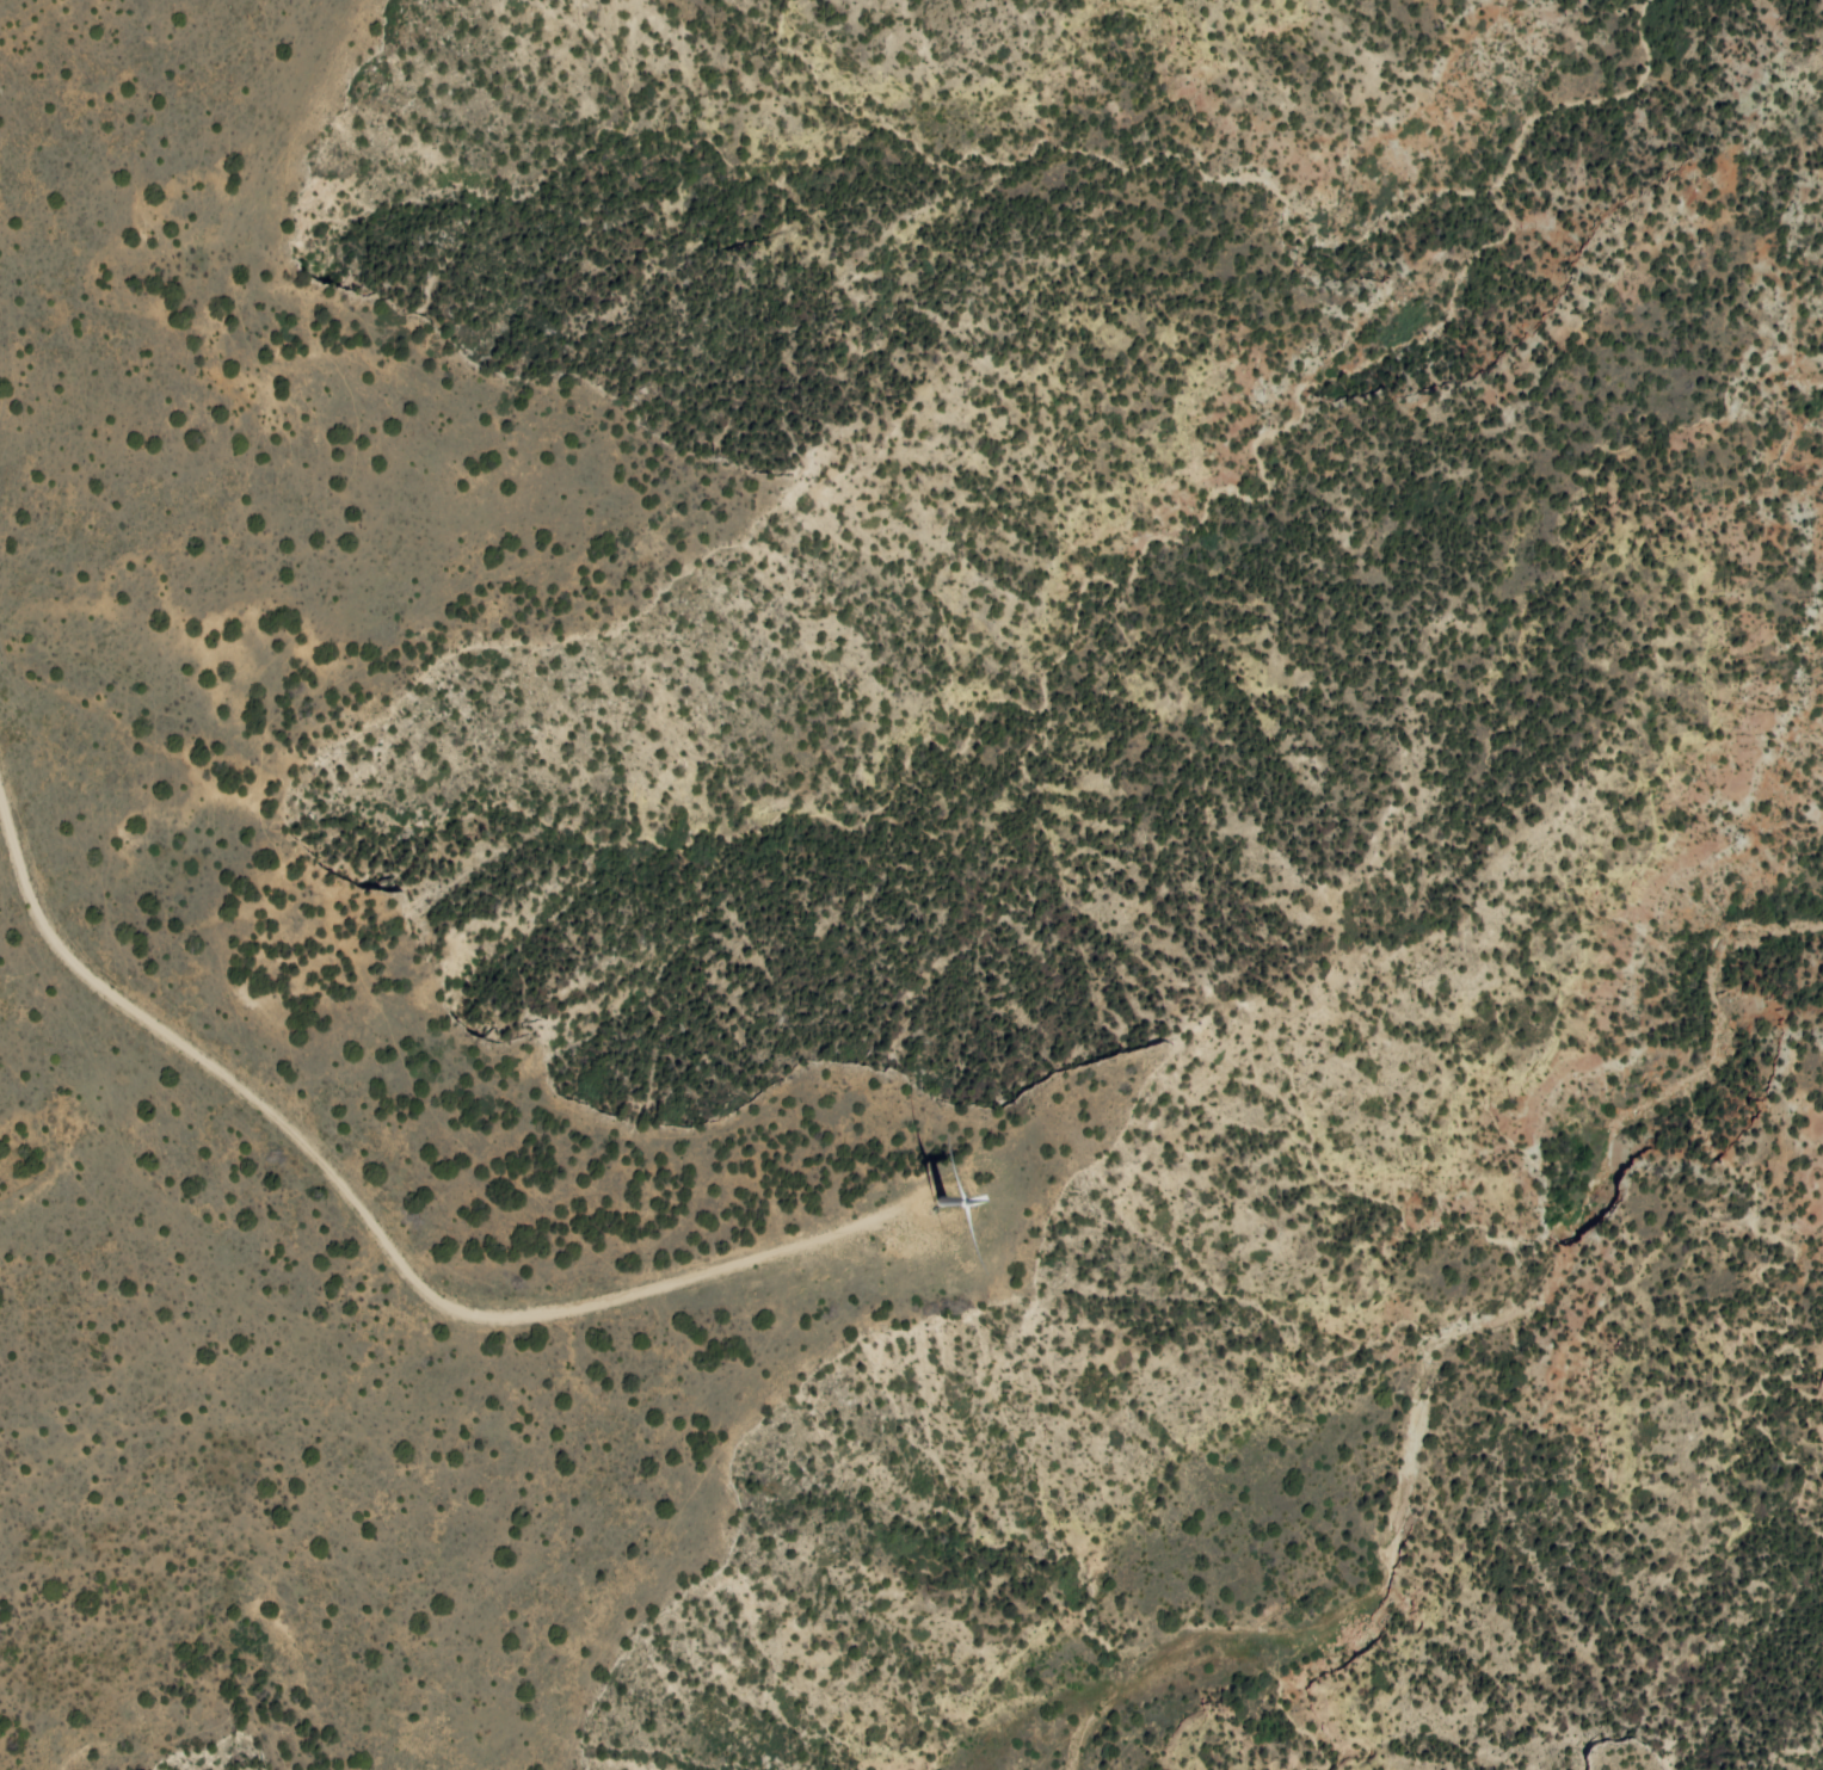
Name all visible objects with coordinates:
wind turbine: (940, 1203)
road: (368, 1221)

